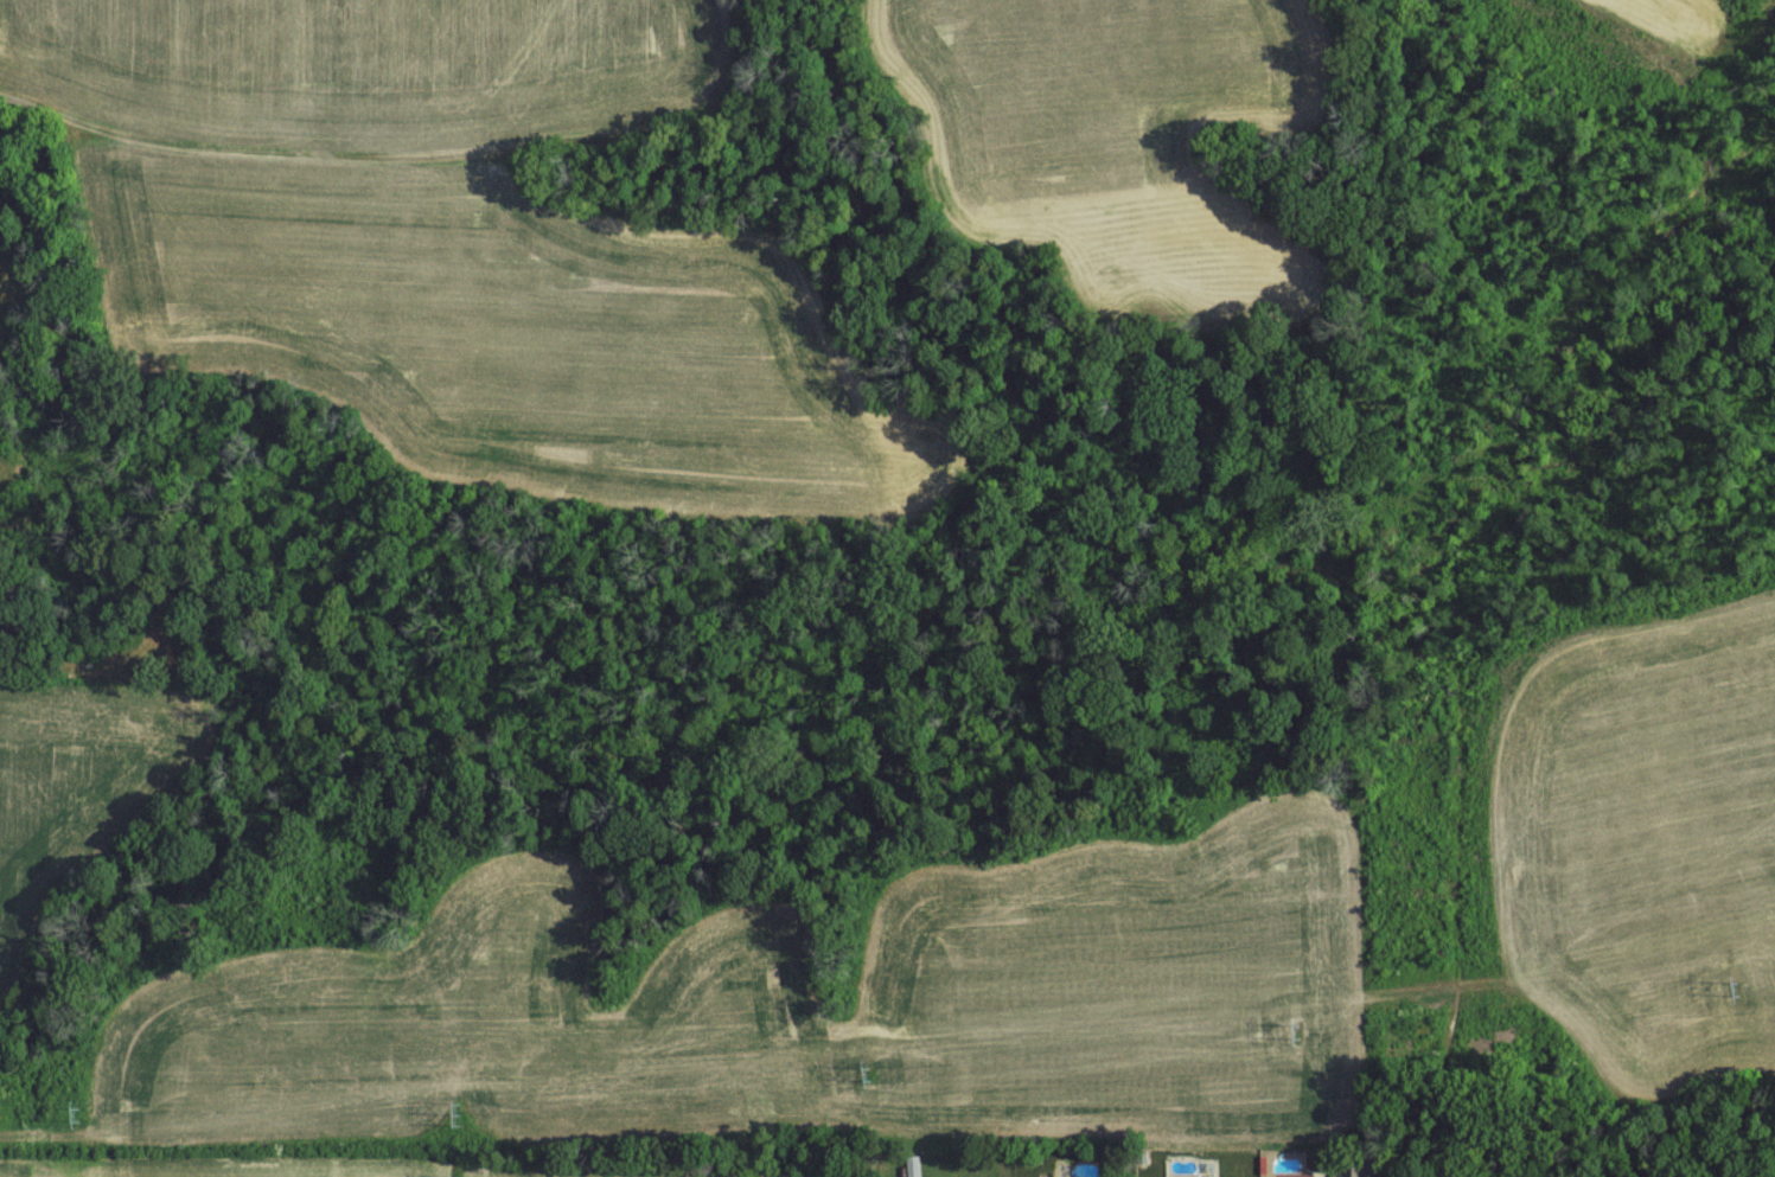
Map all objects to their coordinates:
building: (914, 1165)
building: (978, 1176)

